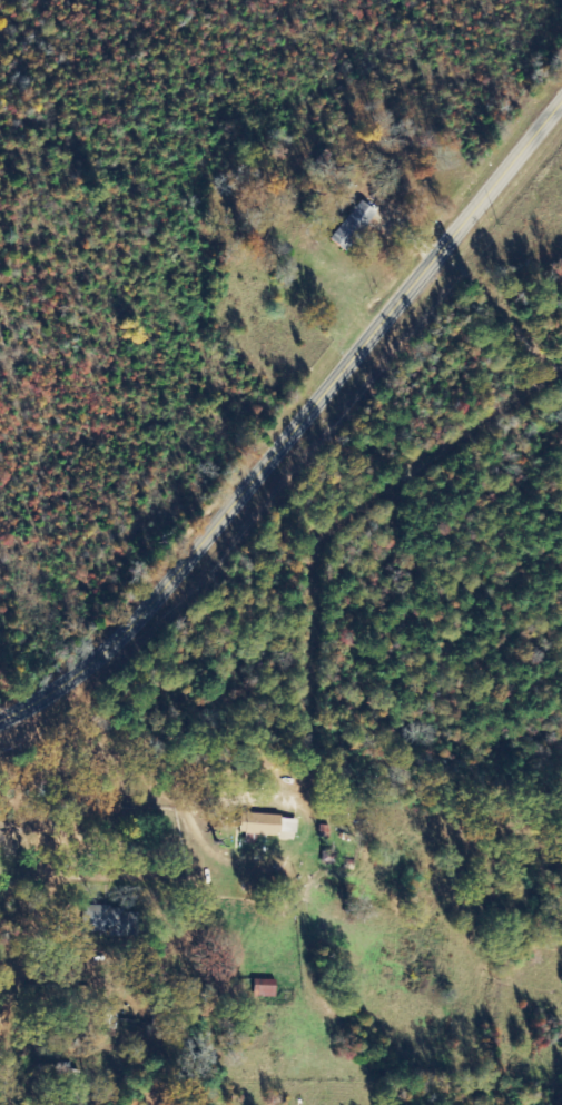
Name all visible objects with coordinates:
building: (354, 226)
road: (295, 426)
building: (269, 826)
building: (109, 920)
building: (265, 989)

